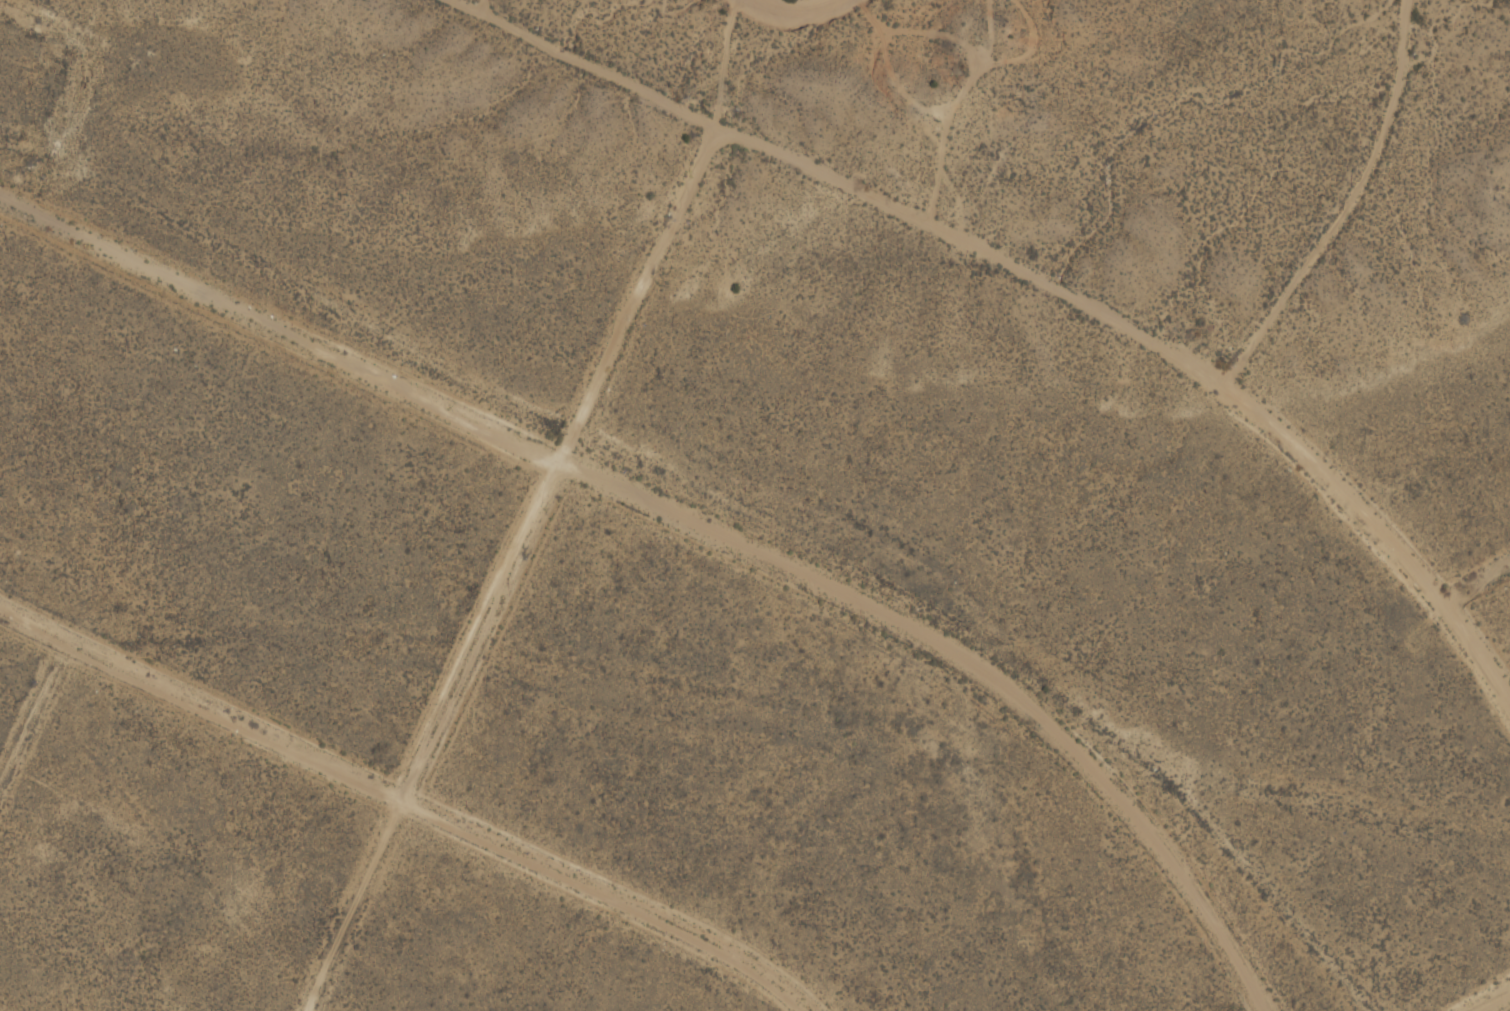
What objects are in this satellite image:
road: (584, 65)
road: (1168, 343)
road: (698, 518)
road: (509, 571)
road: (1480, 577)
road: (412, 801)
road: (1489, 999)

